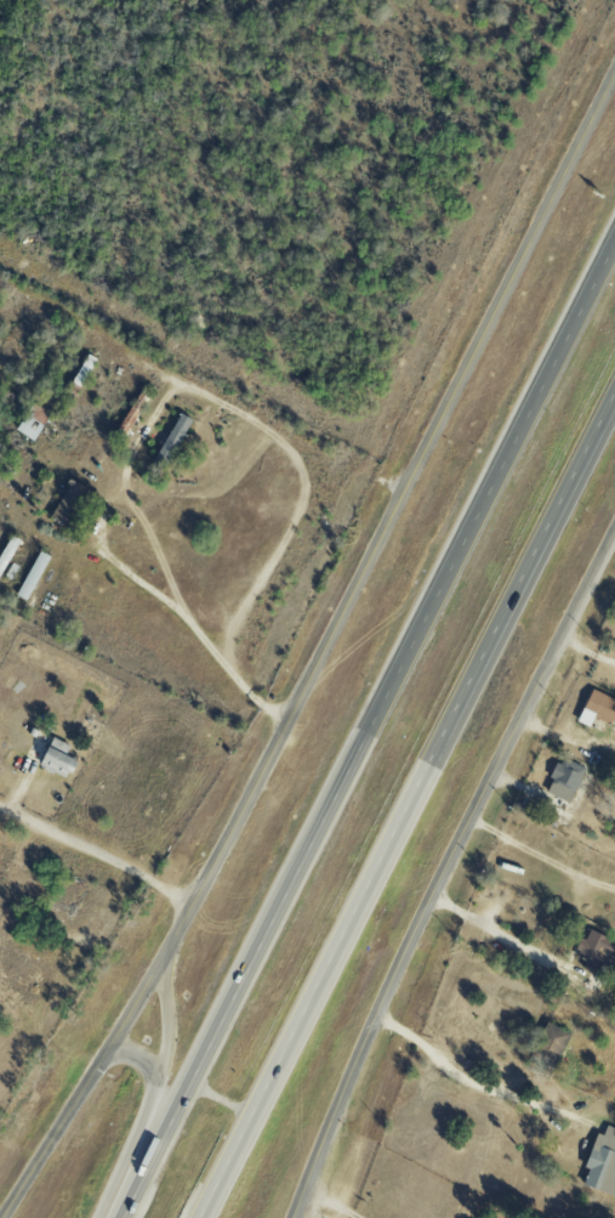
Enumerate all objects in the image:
building: (130, 413)
road: (154, 414)
building: (32, 421)
building: (170, 441)
building: (69, 503)
building: (6, 551)
building: (32, 576)
road: (590, 647)
road: (321, 657)
building: (598, 706)
road: (366, 729)
building: (55, 758)
building: (563, 780)
road: (406, 809)
road: (97, 854)
road: (540, 859)
road: (444, 871)
road: (490, 928)
building: (594, 952)
road: (167, 1031)
building: (548, 1044)
road: (467, 1080)
road: (220, 1099)
road: (147, 1118)
building: (600, 1163)
road: (332, 1203)

